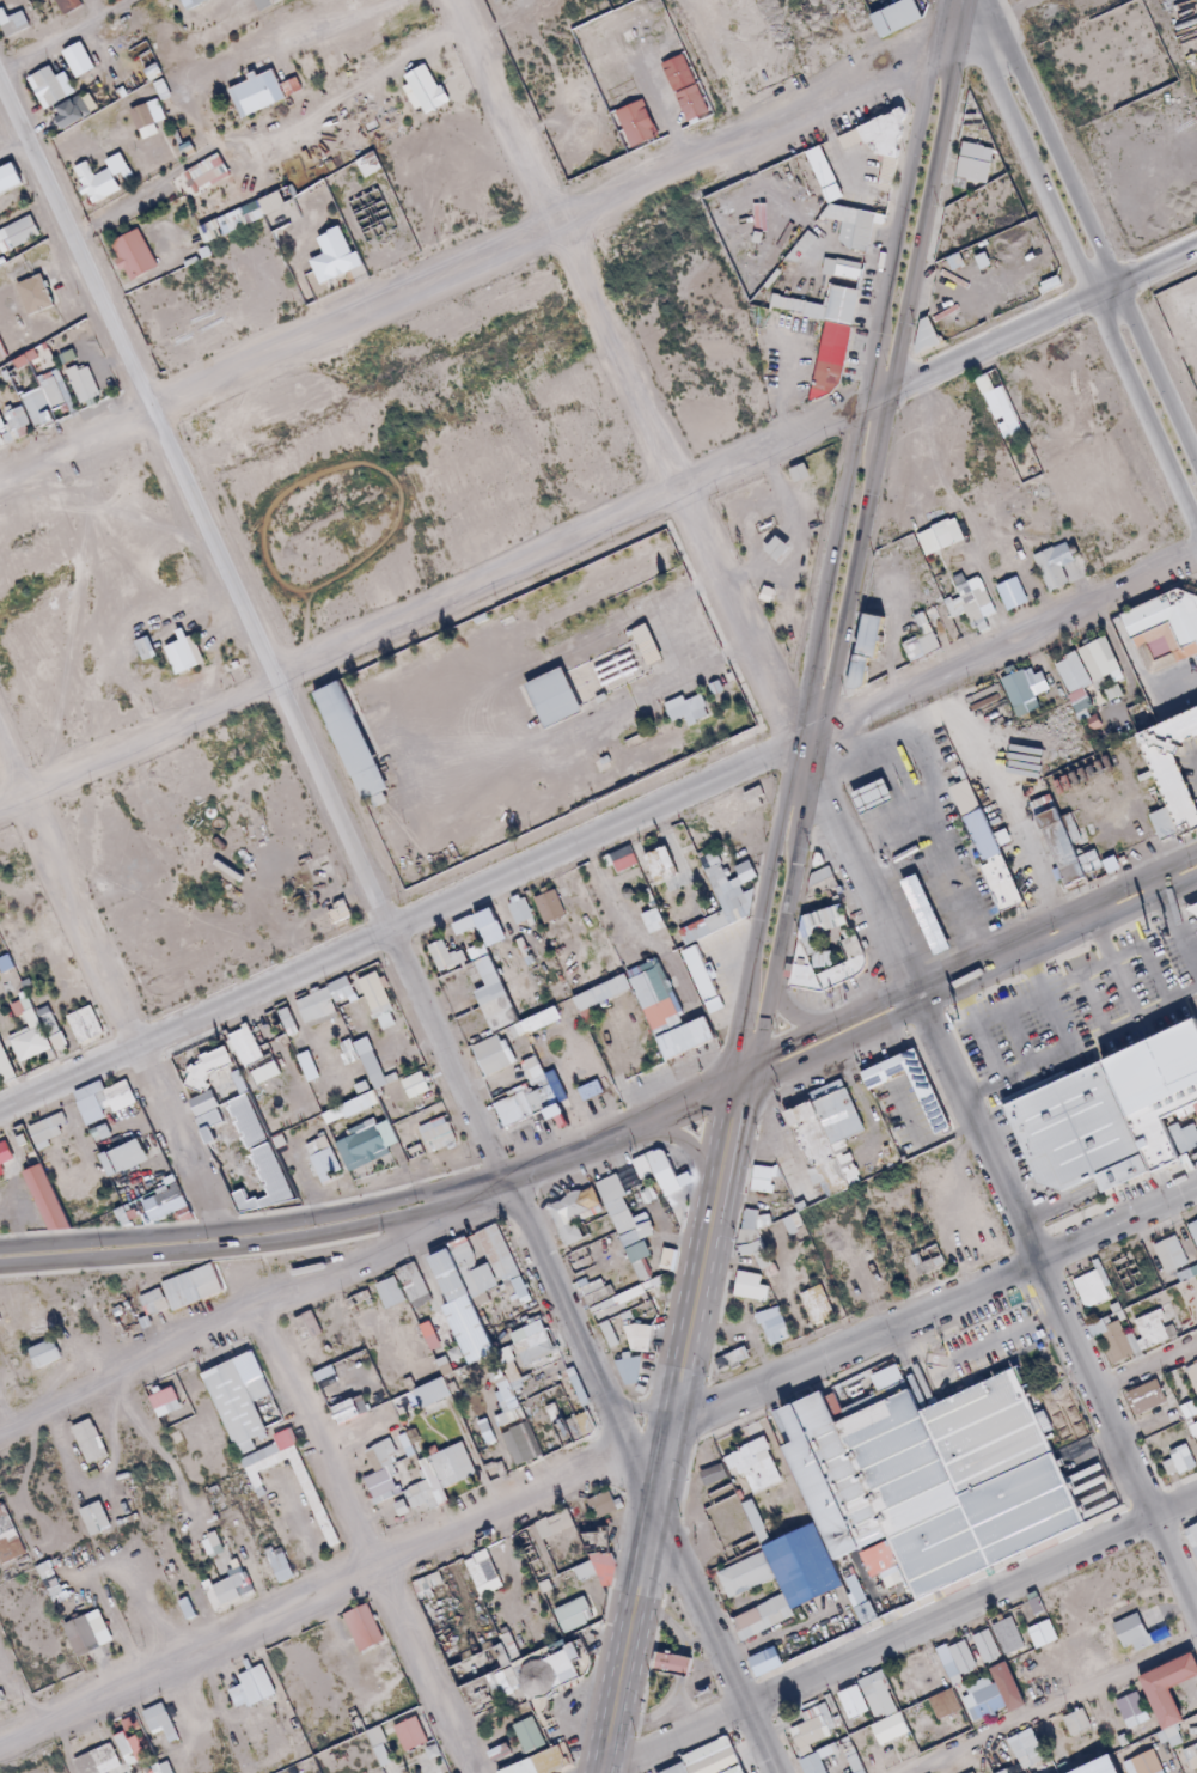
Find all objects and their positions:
road: (1027, 323)
road: (859, 538)
road: (830, 543)
road: (995, 648)
road: (963, 958)
road: (964, 985)
traffic signals: (761, 1056)
traffic signals: (731, 1070)
traffic signals: (758, 1080)
traffic signals: (729, 1090)
road: (598, 1466)
road: (903, 1632)

